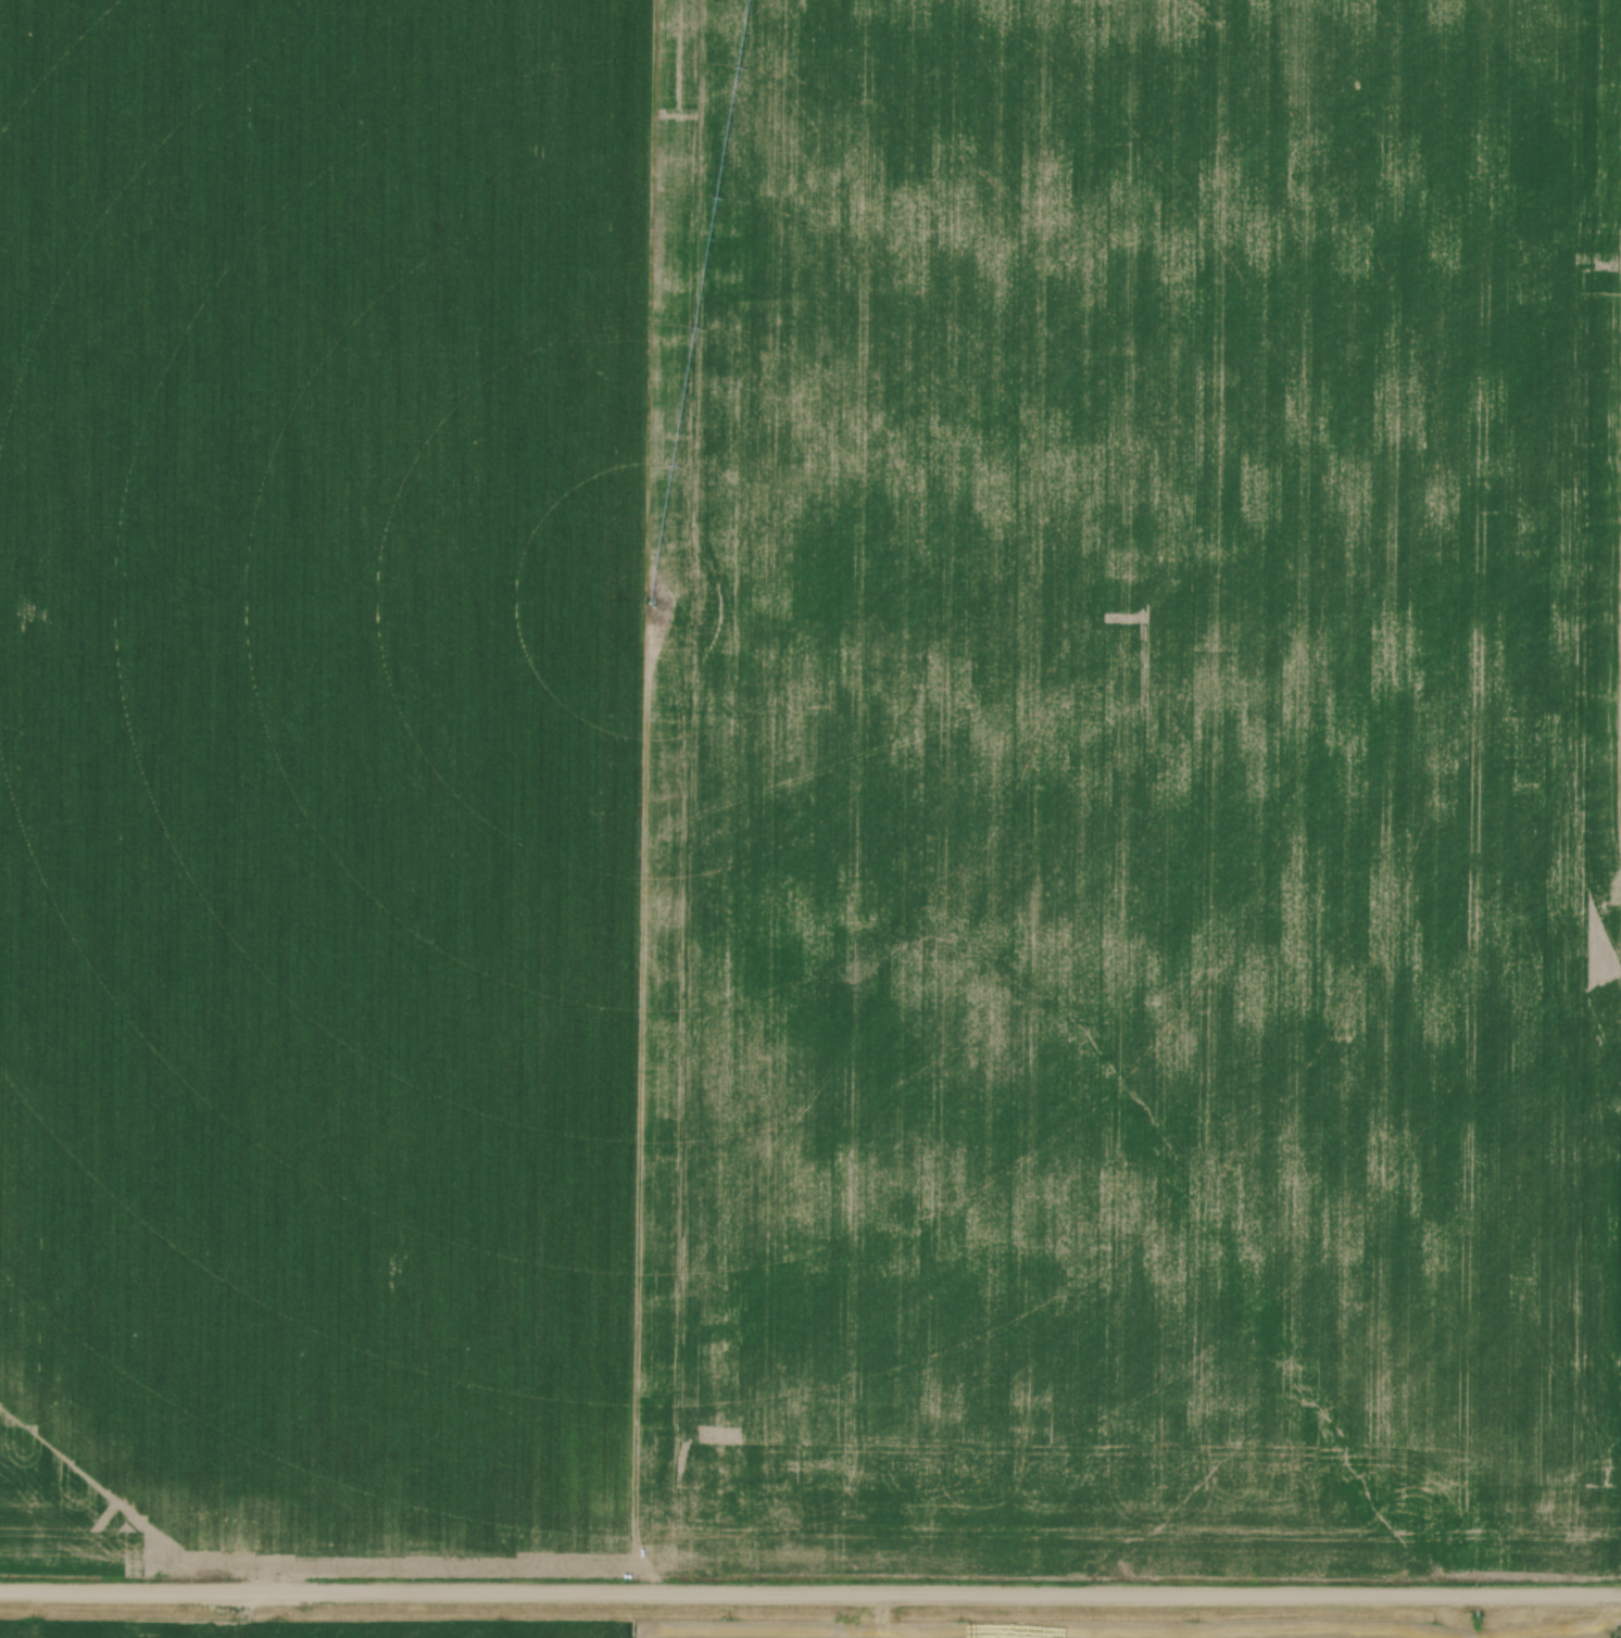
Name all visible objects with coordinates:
road: (810, 1601)

